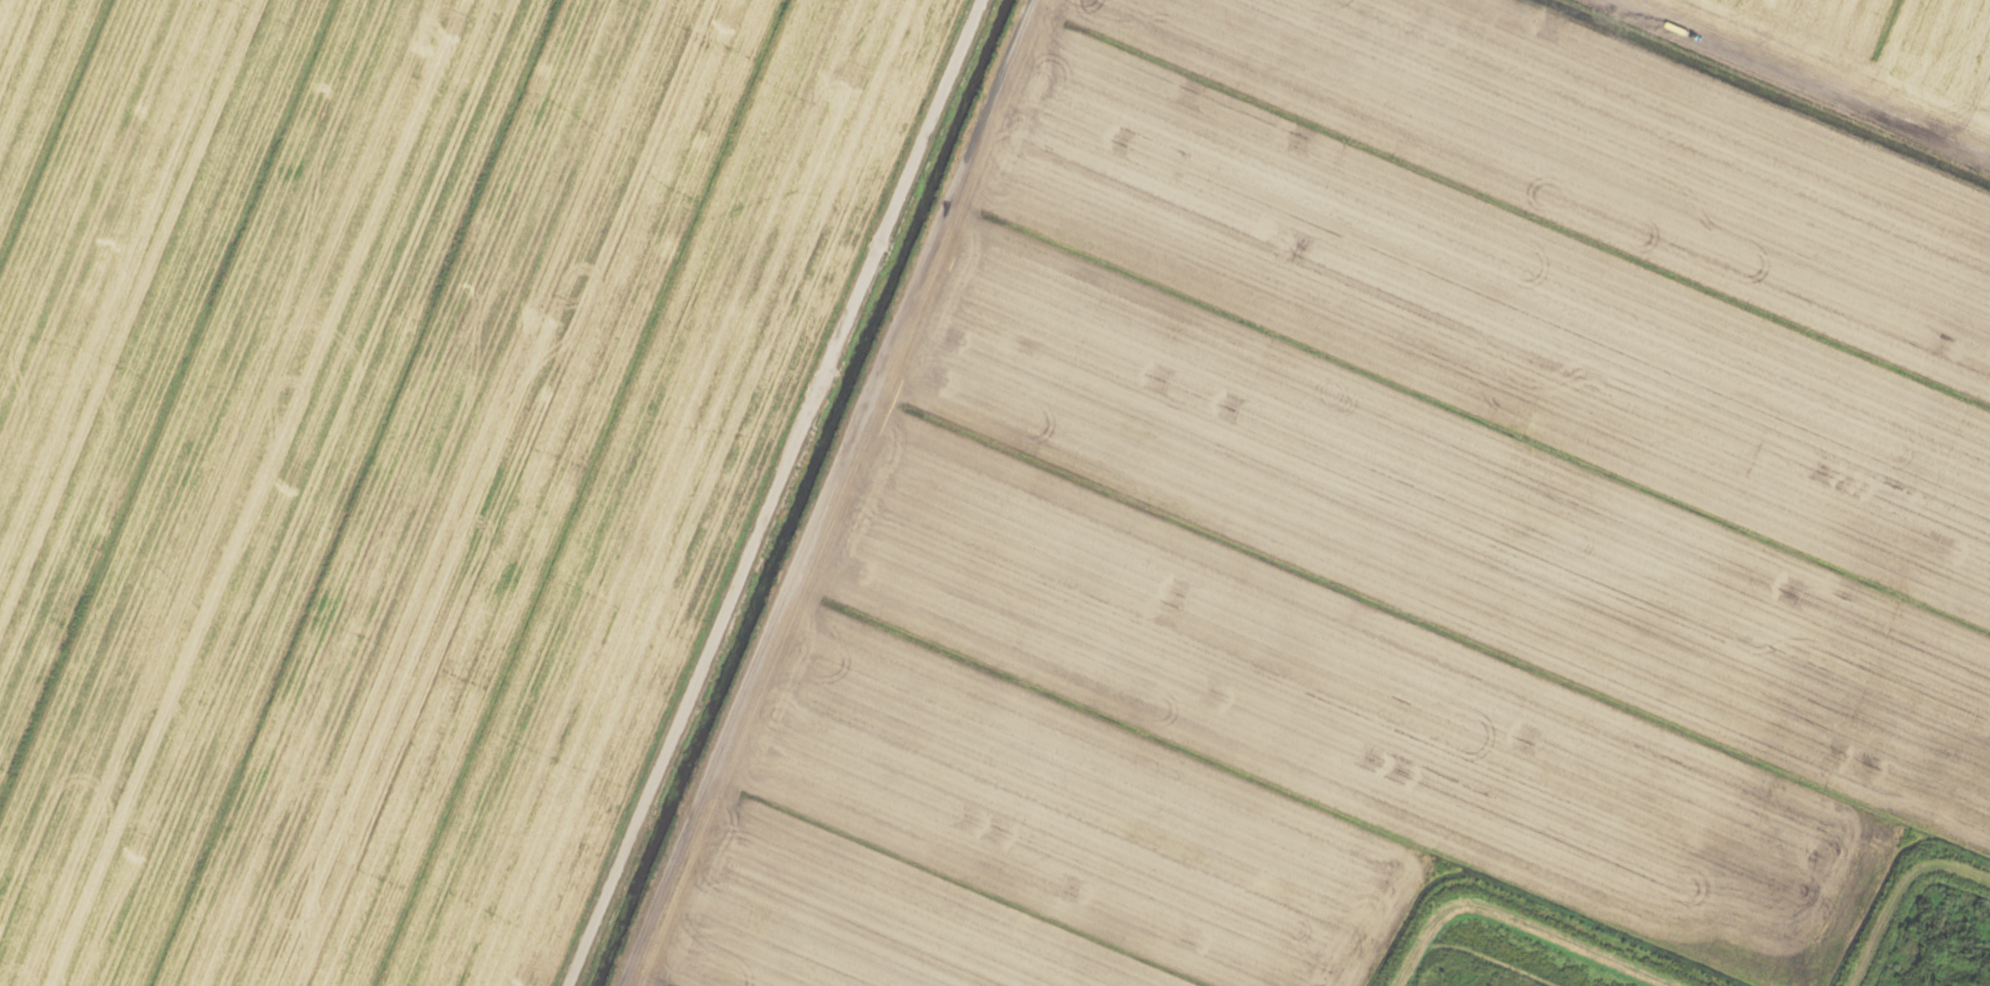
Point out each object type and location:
road: (1801, 79)
crop: (980, 483)
road: (776, 493)

